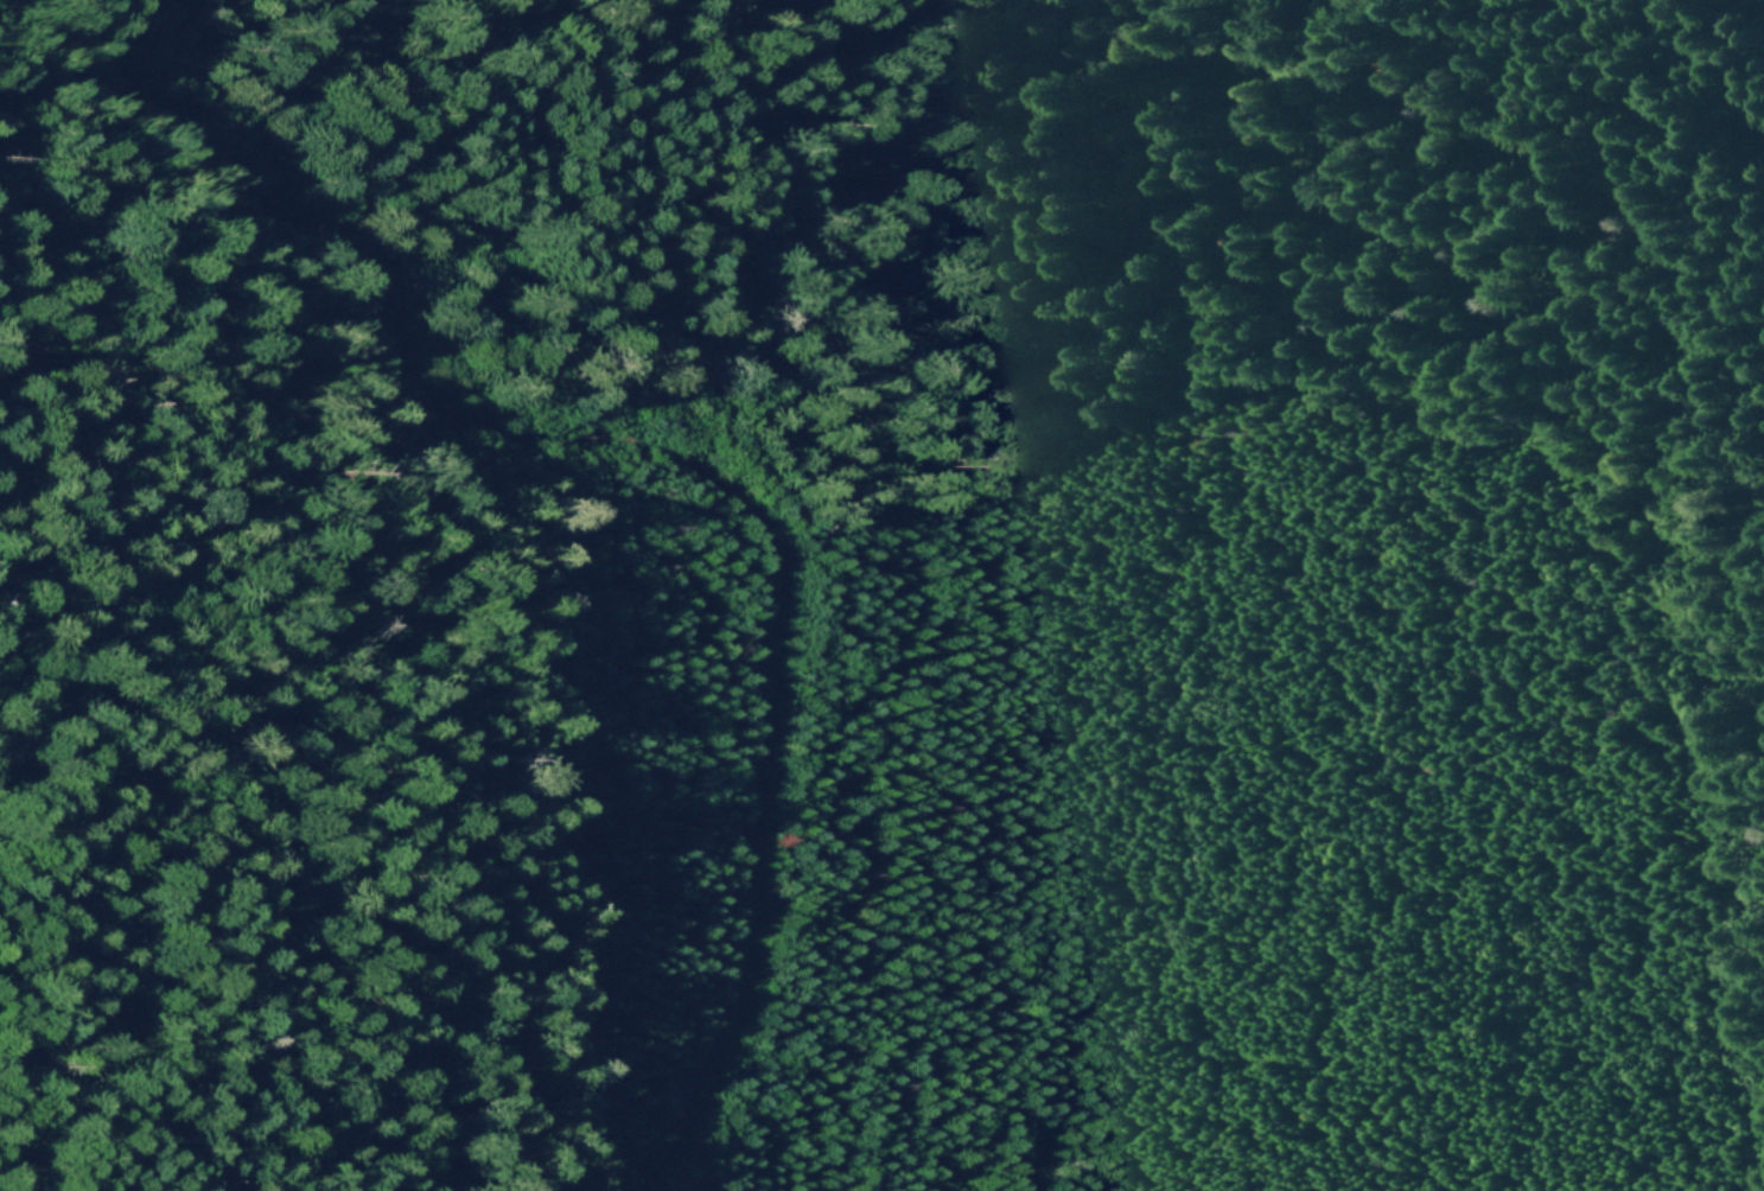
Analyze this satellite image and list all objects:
road: (688, 461)
road: (1025, 1157)
road: (676, 1158)

